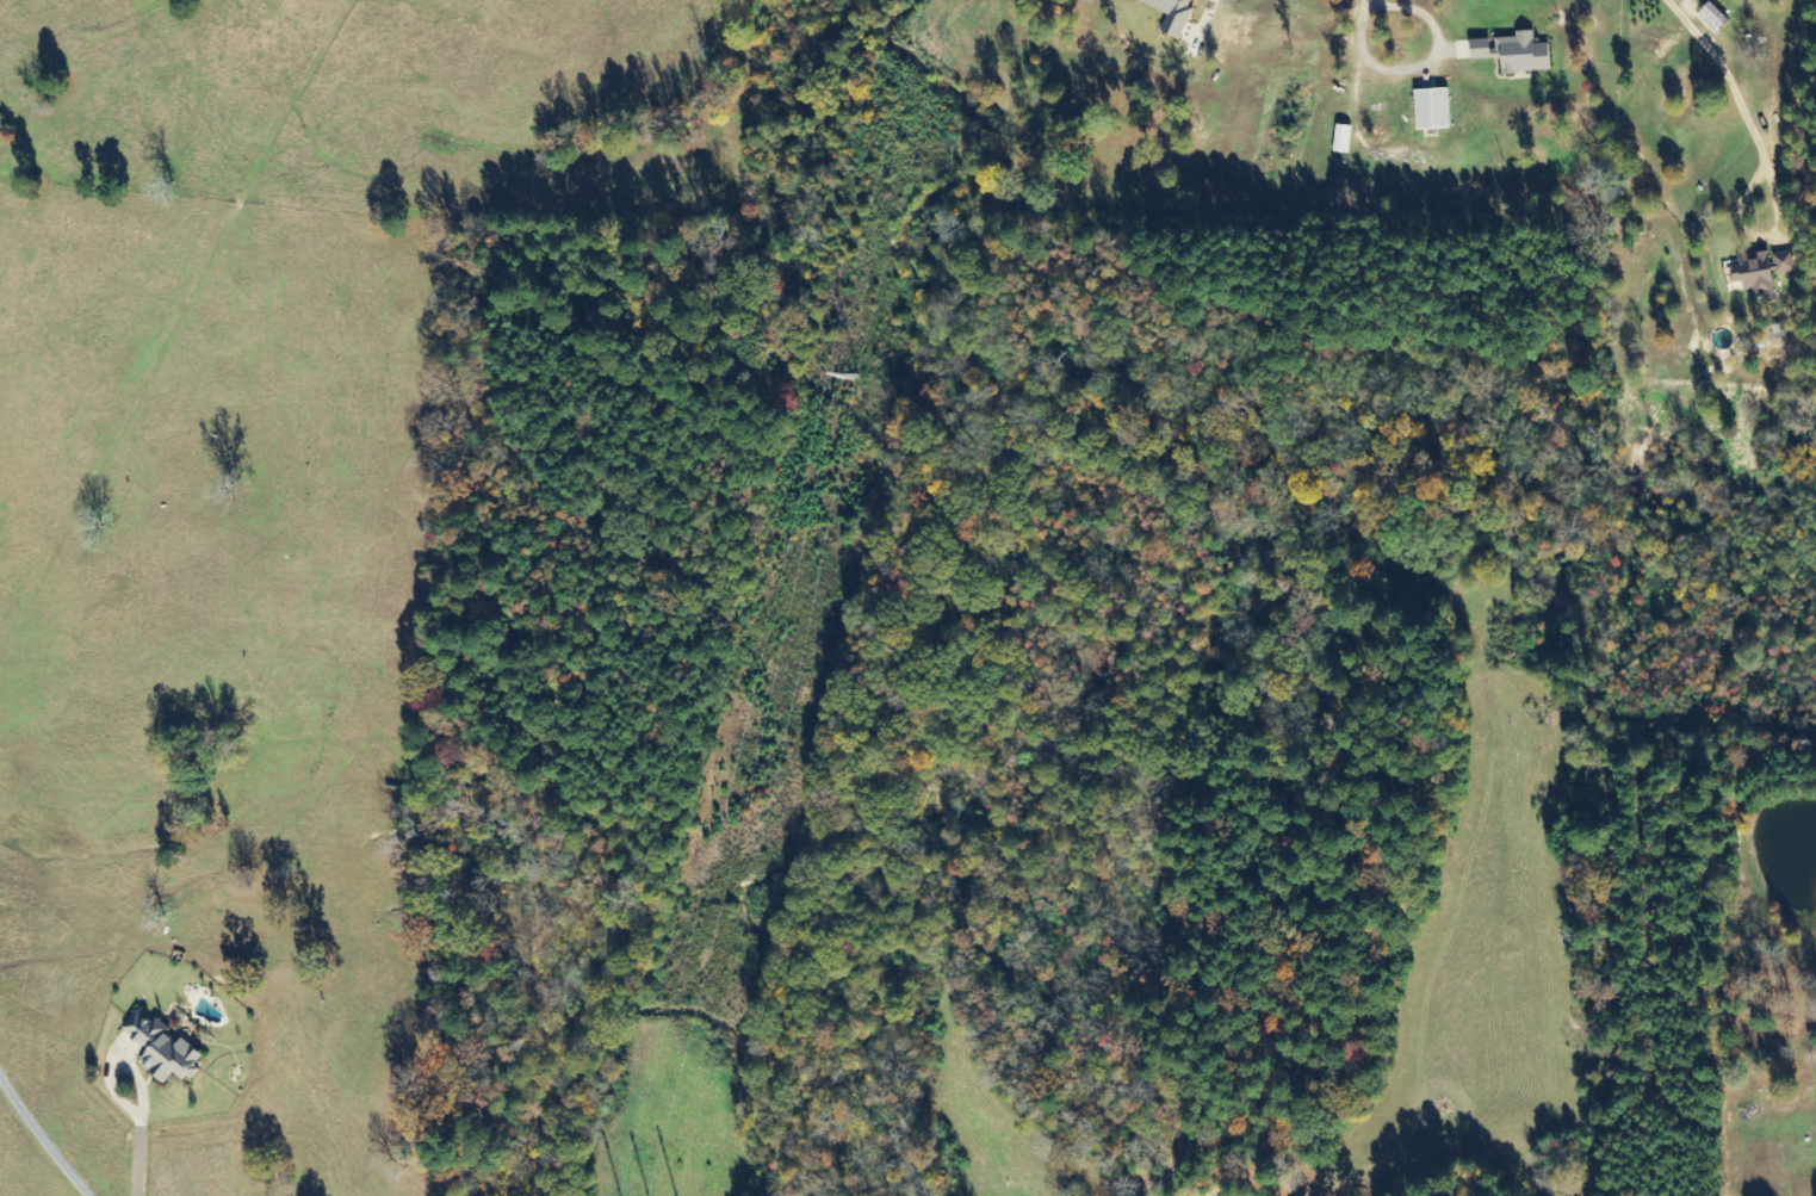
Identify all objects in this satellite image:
building: (1173, 14)
building: (1516, 54)
building: (1433, 110)
road: (1614, 113)
building: (1343, 140)
building: (1764, 269)
power tower: (859, 372)
building: (163, 1048)

